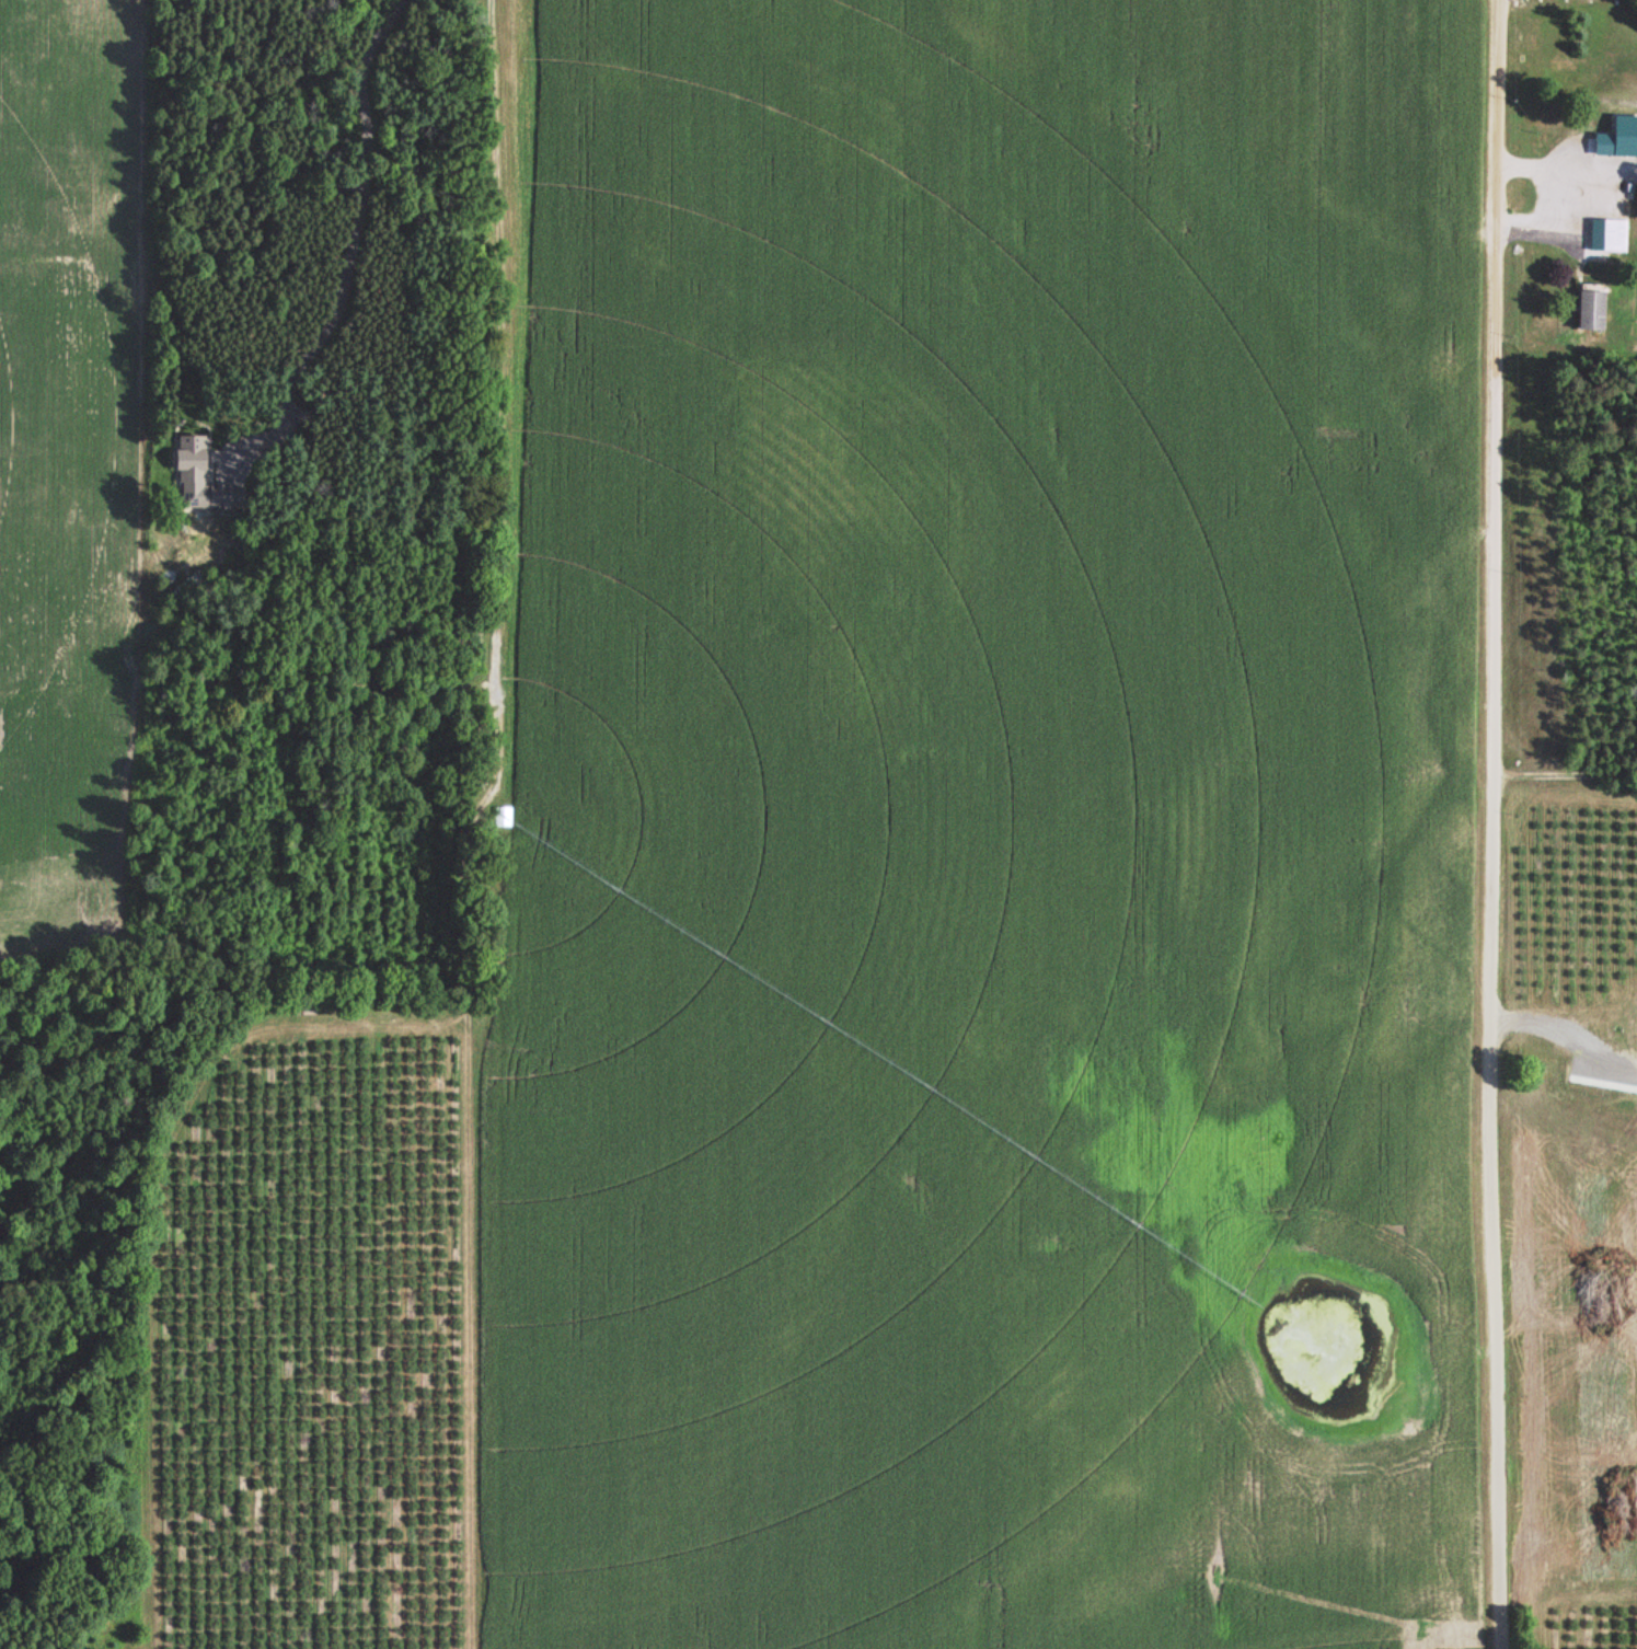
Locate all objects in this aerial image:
building: (1602, 235)
building: (1590, 310)
building: (1132, 365)
road: (1556, 760)
road: (1476, 824)
building: (527, 1277)

